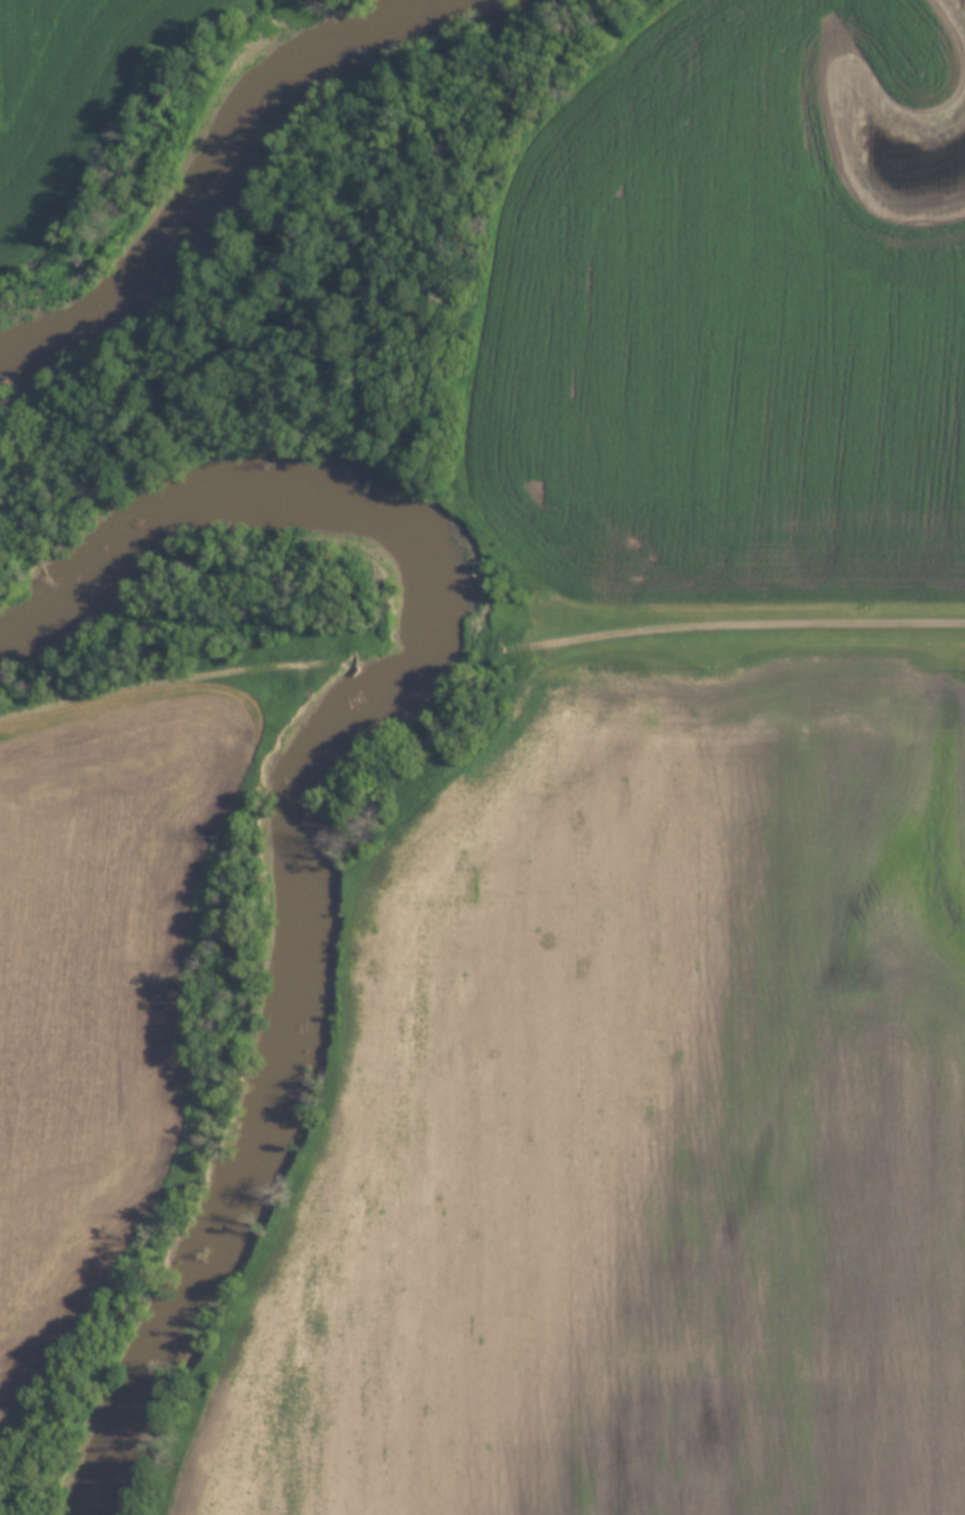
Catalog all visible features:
river: (189, 144)
road: (480, 648)
river: (290, 810)

